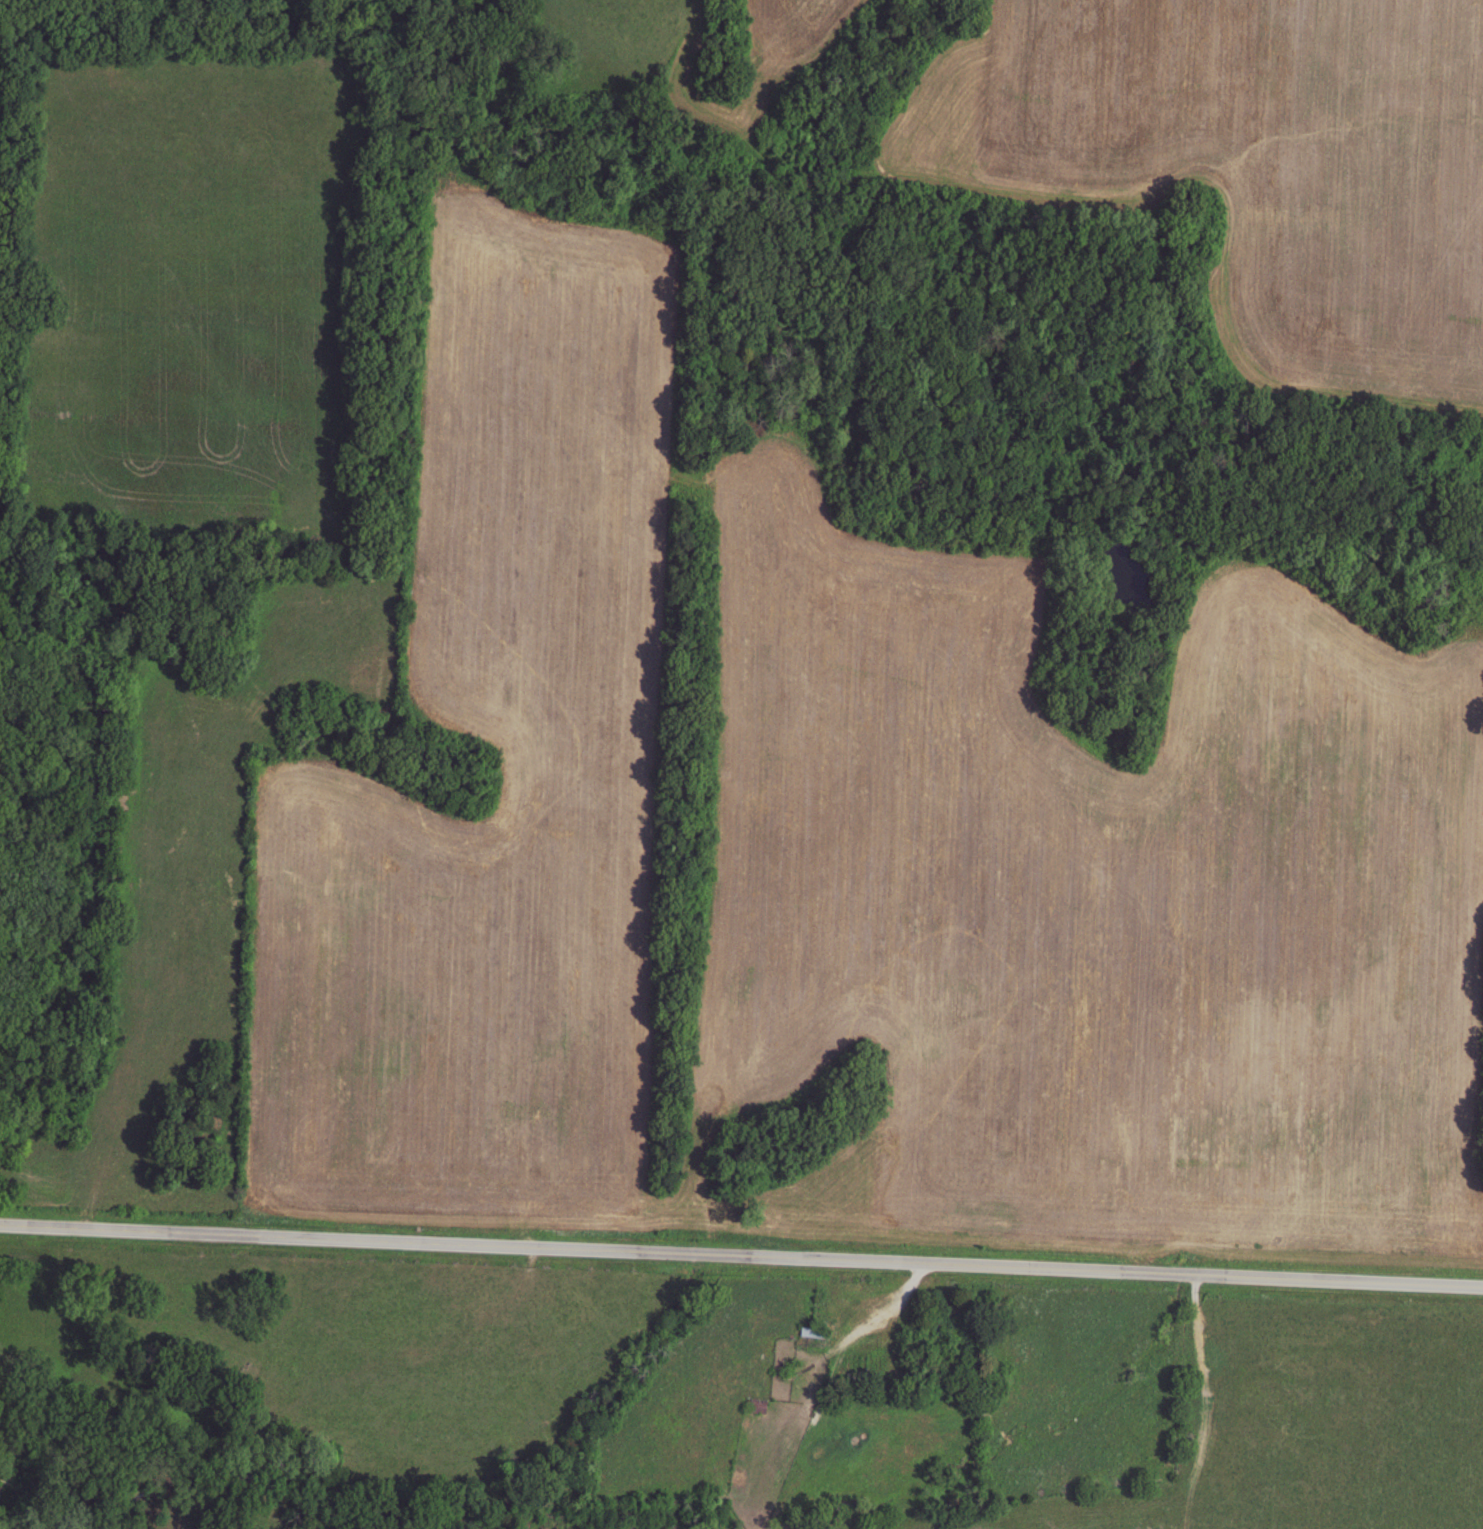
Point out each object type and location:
road: (741, 1256)
road: (861, 1330)
road: (1217, 1400)

